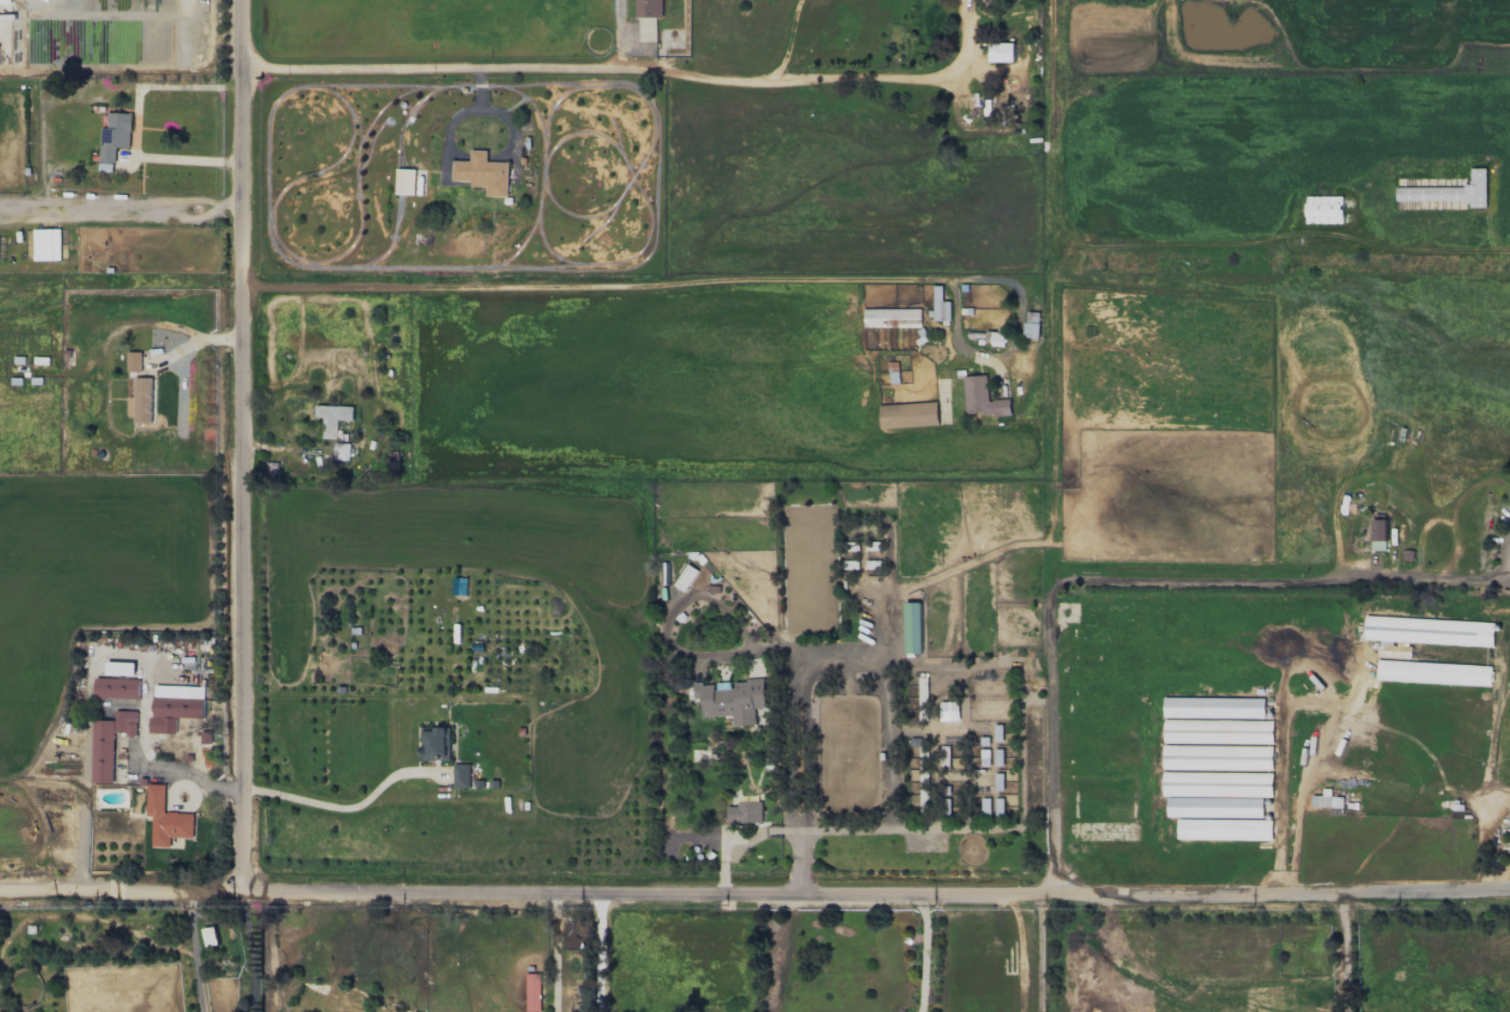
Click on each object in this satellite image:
building: (4, 1)
building: (648, 8)
road: (176, 30)
road: (791, 36)
building: (1001, 52)
road: (959, 55)
road: (460, 59)
road: (764, 73)
road: (191, 86)
building: (114, 135)
road: (1051, 143)
road: (158, 156)
building: (105, 167)
building: (482, 173)
building: (405, 181)
building: (1323, 209)
road: (1280, 237)
building: (46, 244)
road: (877, 286)
building: (940, 305)
building: (892, 317)
building: (1032, 324)
building: (995, 337)
road: (194, 343)
building: (134, 361)
building: (889, 369)
building: (982, 398)
building: (141, 400)
road: (1049, 412)
building: (908, 414)
building: (333, 418)
road: (245, 446)
building: (341, 451)
road: (1452, 510)
building: (1378, 535)
road: (1509, 566)
building: (685, 577)
road: (1284, 585)
building: (914, 627)
building: (1424, 633)
road: (669, 642)
road: (949, 662)
building: (120, 668)
building: (1433, 672)
building: (117, 688)
building: (731, 699)
building: (920, 702)
building: (175, 706)
road: (799, 707)
building: (1214, 707)
building: (949, 711)
building: (1218, 731)
building: (998, 732)
road: (1049, 738)
building: (109, 743)
building: (435, 744)
road: (888, 749)
road: (1021, 751)
building: (984, 757)
building: (998, 757)
building: (1218, 757)
building: (949, 759)
road: (157, 763)
building: (461, 775)
building: (998, 781)
building: (1218, 784)
building: (1327, 799)
road: (341, 803)
building: (985, 806)
building: (998, 806)
building: (1215, 807)
building: (745, 812)
building: (166, 818)
road: (978, 829)
building: (1224, 829)
road: (836, 831)
road: (755, 894)
road: (247, 901)
building: (210, 936)
road: (267, 951)
road: (193, 952)
road: (553, 953)
road: (599, 953)
road: (1020, 953)
road: (924, 954)
road: (1040, 954)
road: (1345, 954)
road: (247, 961)
building: (533, 992)

